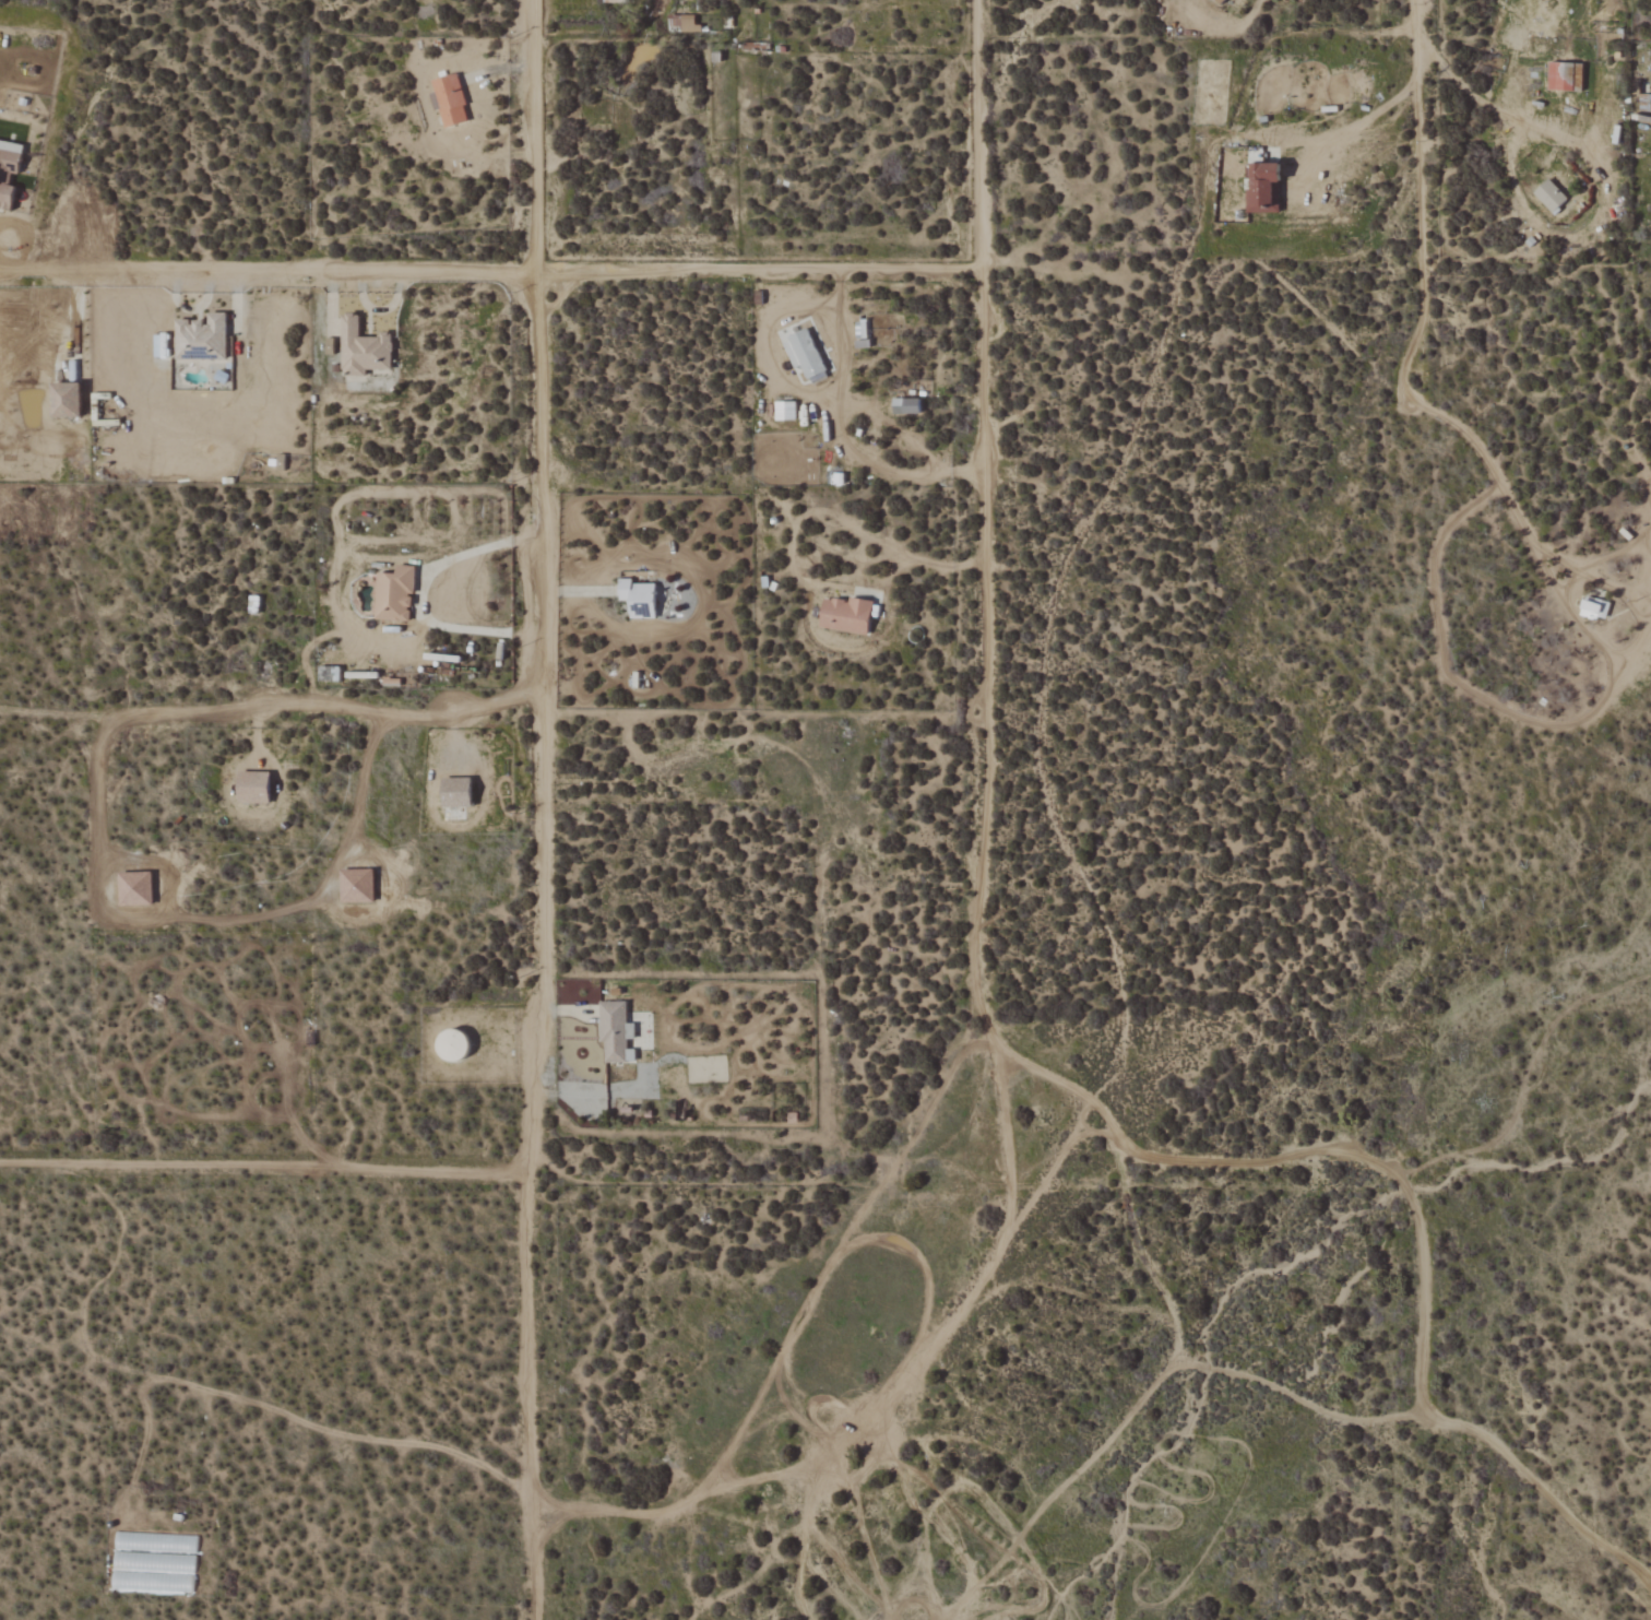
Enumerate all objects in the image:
building: (1216, 1)
building: (1563, 78)
building: (449, 100)
road: (1418, 128)
building: (11, 170)
road: (1597, 172)
building: (1548, 197)
road: (269, 269)
road: (759, 272)
building: (207, 338)
building: (165, 345)
building: (367, 348)
building: (801, 355)
building: (73, 400)
building: (905, 406)
building: (783, 412)
road: (838, 433)
road: (1473, 441)
building: (399, 593)
road: (423, 593)
building: (643, 599)
building: (1592, 608)
building: (852, 615)
road: (270, 702)
building: (259, 789)
building: (463, 792)
road: (539, 809)
road: (1062, 846)
building: (361, 886)
building: (140, 888)
road: (216, 921)
road: (983, 1012)
building: (460, 1045)
road: (270, 1166)

